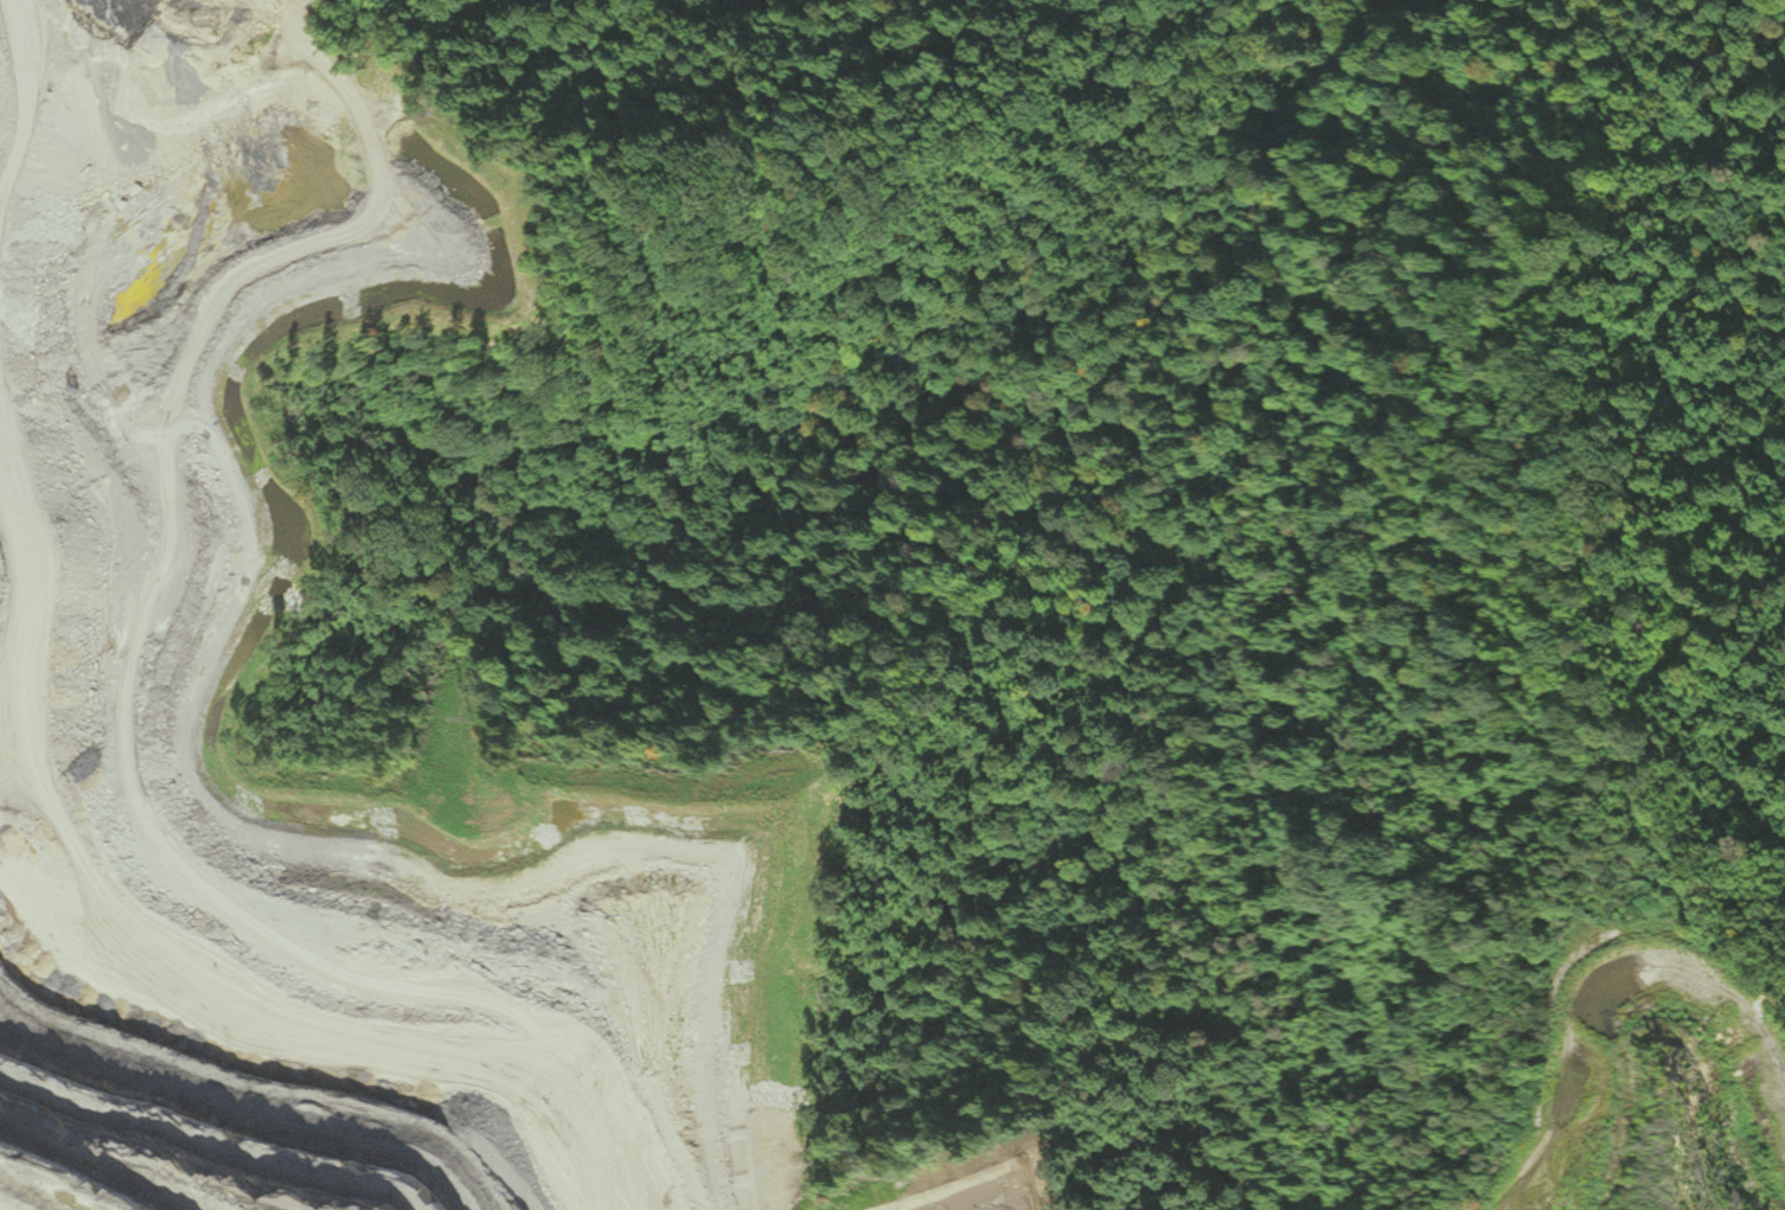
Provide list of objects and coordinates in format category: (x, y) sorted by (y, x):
quarry: (126, 589)
quarry: (1665, 1139)
quarry: (1039, 1209)

